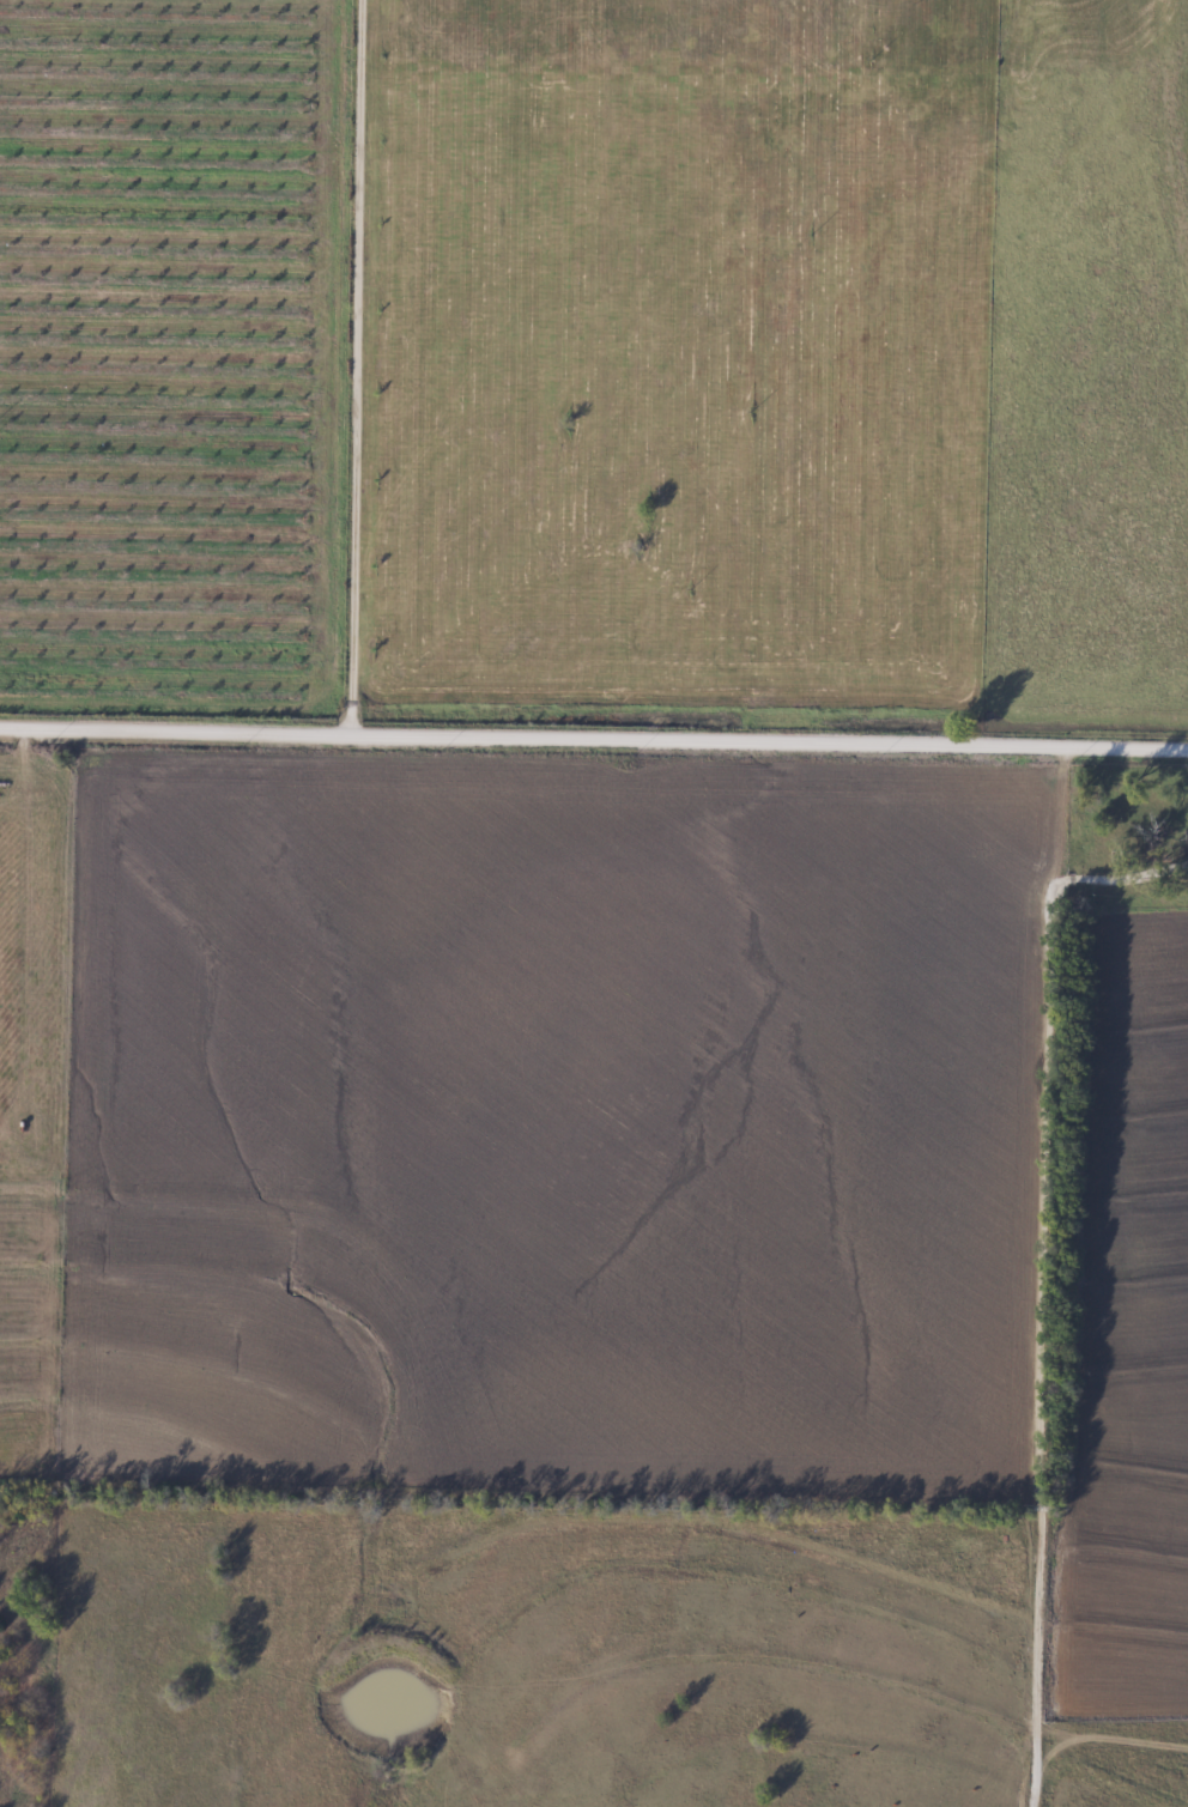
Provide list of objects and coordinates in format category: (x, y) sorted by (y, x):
road: (352, 368)
road: (593, 740)
road: (1036, 1275)

